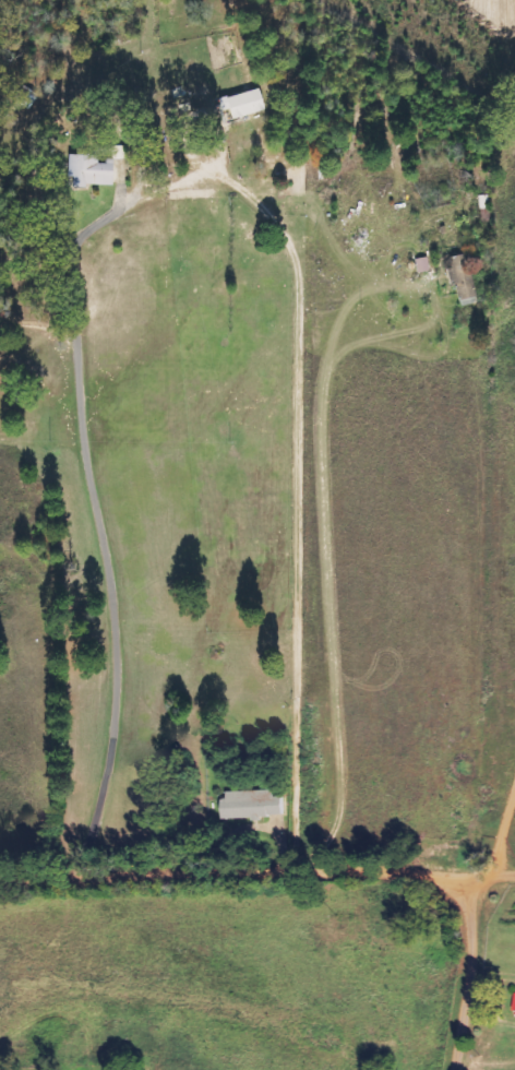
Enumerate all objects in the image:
building: (247, 103)
building: (97, 168)
road: (181, 178)
building: (423, 264)
building: (462, 277)
building: (253, 805)
road: (327, 876)
road: (489, 878)
building: (514, 1013)

